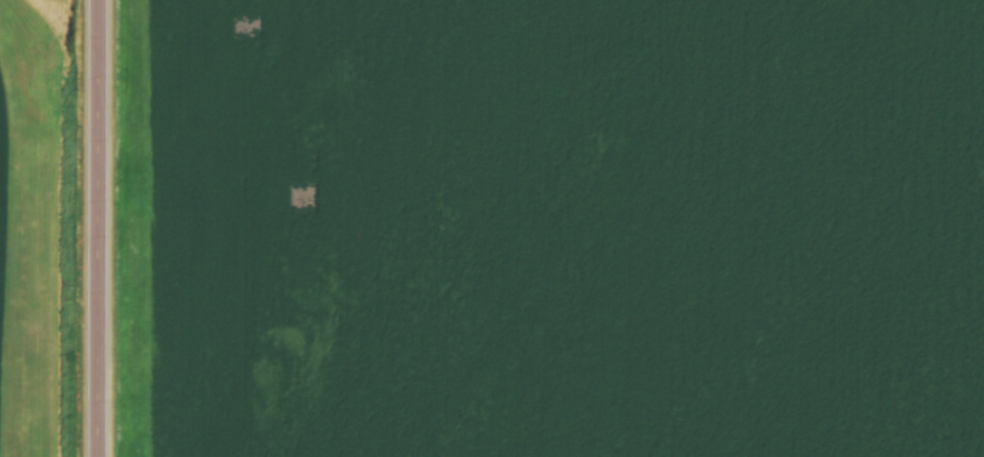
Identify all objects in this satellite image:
road: (101, 228)

